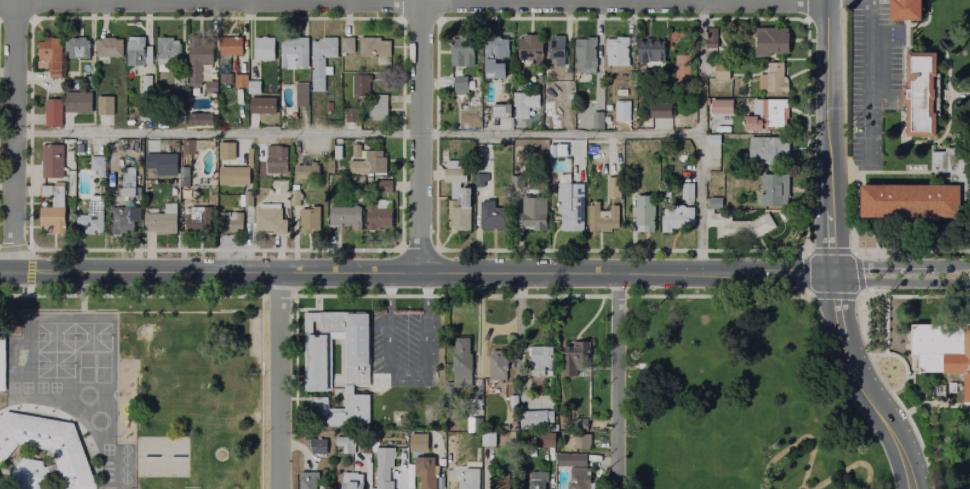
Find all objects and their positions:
road: (847, 0)
road: (413, 3)
building: (905, 10)
road: (14, 18)
road: (32, 20)
road: (804, 22)
road: (400, 23)
building: (713, 40)
building: (348, 46)
building: (230, 47)
building: (109, 48)
building: (373, 48)
building: (77, 49)
building: (530, 49)
building: (265, 50)
building: (771, 50)
building: (557, 51)
building: (136, 52)
building: (168, 52)
building: (293, 53)
building: (651, 54)
building: (585, 55)
building: (617, 55)
building: (51, 56)
building: (200, 58)
building: (462, 58)
building: (322, 60)
building: (497, 60)
building: (722, 73)
building: (681, 75)
parking lot: (874, 75)
building: (224, 78)
building: (773, 80)
building: (241, 81)
building: (89, 82)
road: (868, 83)
building: (146, 84)
building: (210, 87)
building: (254, 87)
building: (361, 88)
building: (460, 88)
building: (622, 93)
building: (301, 94)
building: (920, 94)
road: (954, 95)
building: (475, 96)
building: (78, 102)
building: (524, 105)
building: (105, 106)
building: (261, 106)
building: (722, 107)
building: (378, 110)
building: (501, 112)
building: (52, 114)
building: (658, 114)
building: (159, 115)
building: (626, 115)
building: (352, 116)
building: (767, 116)
building: (200, 120)
building: (598, 121)
road: (349, 134)
road: (15, 135)
road: (420, 135)
road: (699, 137)
building: (713, 140)
building: (189, 147)
building: (78, 149)
building: (560, 150)
building: (226, 151)
building: (356, 151)
building: (551, 151)
building: (763, 152)
building: (337, 153)
building: (275, 159)
building: (51, 162)
building: (369, 164)
building: (161, 165)
building: (98, 166)
building: (307, 172)
road: (900, 172)
building: (234, 177)
building: (183, 178)
building: (481, 180)
building: (631, 181)
building: (128, 183)
building: (517, 183)
building: (161, 186)
building: (382, 187)
building: (614, 188)
building: (688, 191)
building: (774, 191)
building: (924, 192)
building: (54, 195)
building: (457, 196)
building: (295, 198)
building: (359, 198)
building: (245, 199)
building: (571, 204)
road: (853, 211)
building: (534, 213)
building: (645, 215)
building: (493, 216)
building: (376, 217)
building: (600, 217)
building: (93, 218)
building: (346, 218)
building: (677, 218)
building: (52, 219)
building: (126, 219)
building: (269, 220)
building: (196, 221)
building: (228, 221)
building: (308, 221)
building: (163, 222)
building: (736, 224)
road: (15, 248)
road: (31, 248)
road: (400, 249)
road: (438, 249)
road: (419, 250)
road: (804, 251)
road: (829, 251)
road: (912, 251)
road: (853, 252)
road: (832, 253)
road: (882, 265)
road: (952, 265)
road: (30, 267)
road: (6, 272)
road: (387, 272)
road: (805, 273)
road: (858, 273)
road: (797, 275)
road: (900, 282)
road: (28, 291)
road: (859, 294)
road: (263, 295)
road: (278, 295)
road: (227, 296)
road: (449, 296)
road: (615, 296)
road: (716, 296)
road: (832, 296)
road: (914, 298)
building: (331, 321)
road: (883, 326)
park: (55, 337)
park: (92, 337)
building: (356, 338)
parking lot: (403, 349)
building: (943, 350)
building: (542, 360)
building: (576, 360)
building: (316, 361)
building: (2, 362)
building: (496, 364)
park: (55, 365)
building: (462, 365)
road: (903, 369)
road: (408, 377)
road: (278, 380)
road: (617, 381)
park: (739, 401)
building: (510, 402)
building: (340, 411)
building: (535, 420)
building: (579, 424)
road: (798, 440)
building: (489, 441)
building: (547, 441)
building: (583, 441)
building: (347, 444)
building: (418, 444)
building: (48, 446)
building: (318, 452)
road: (848, 467)
building: (385, 468)
building: (577, 469)
building: (426, 473)
building: (31, 474)
building: (309, 480)
building: (472, 480)
building: (352, 481)
building: (539, 481)
building: (502, 484)
building: (0, 486)

